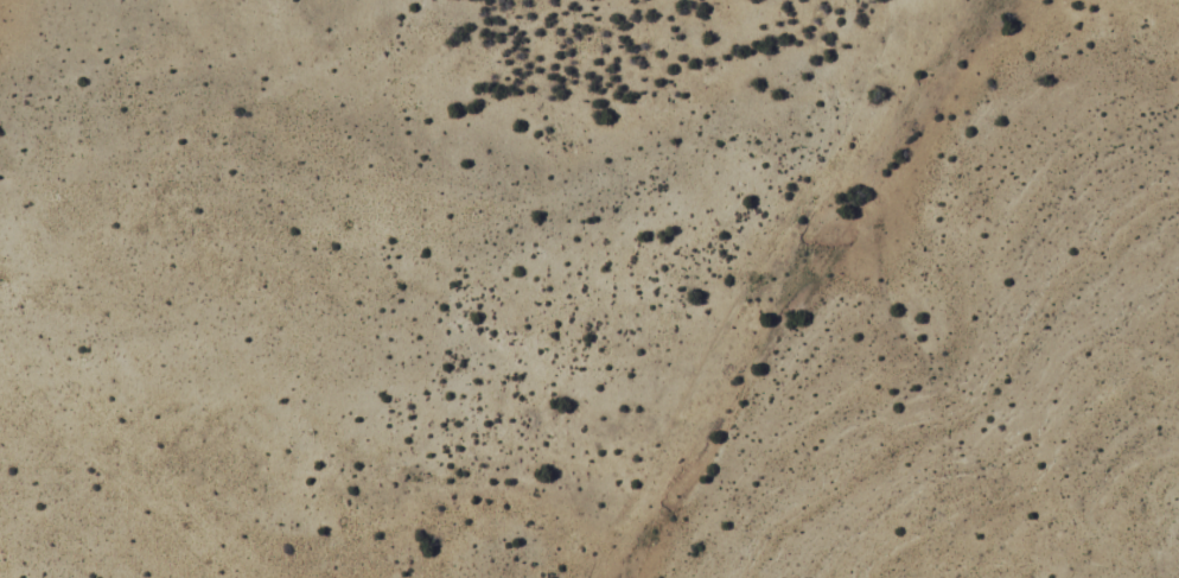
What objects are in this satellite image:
road: (777, 274)

